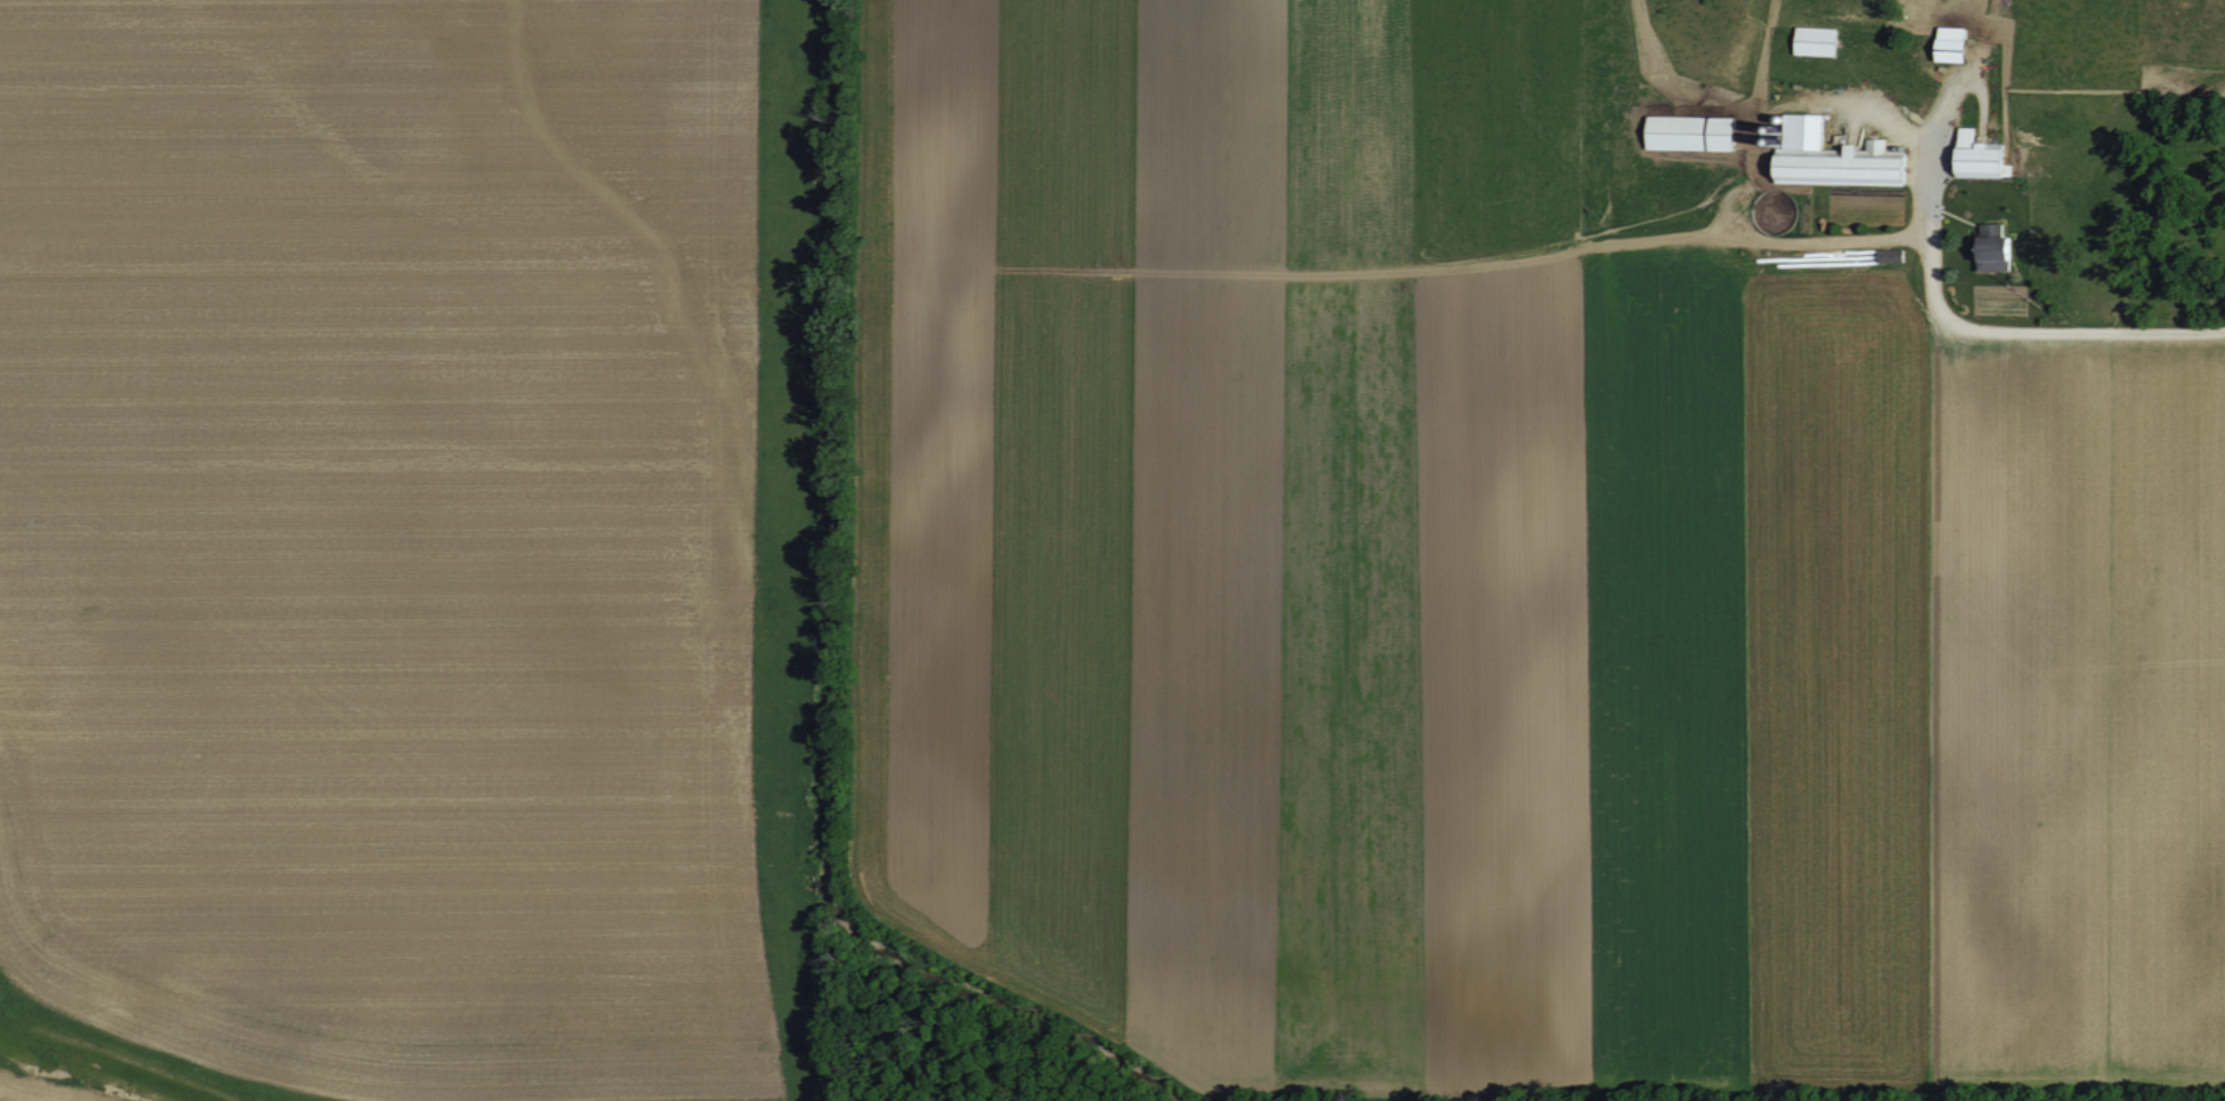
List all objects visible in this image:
building: (1813, 40)
building: (1948, 42)
building: (1689, 131)
building: (1978, 156)
building: (1830, 157)
building: (1991, 248)
road: (1988, 327)

